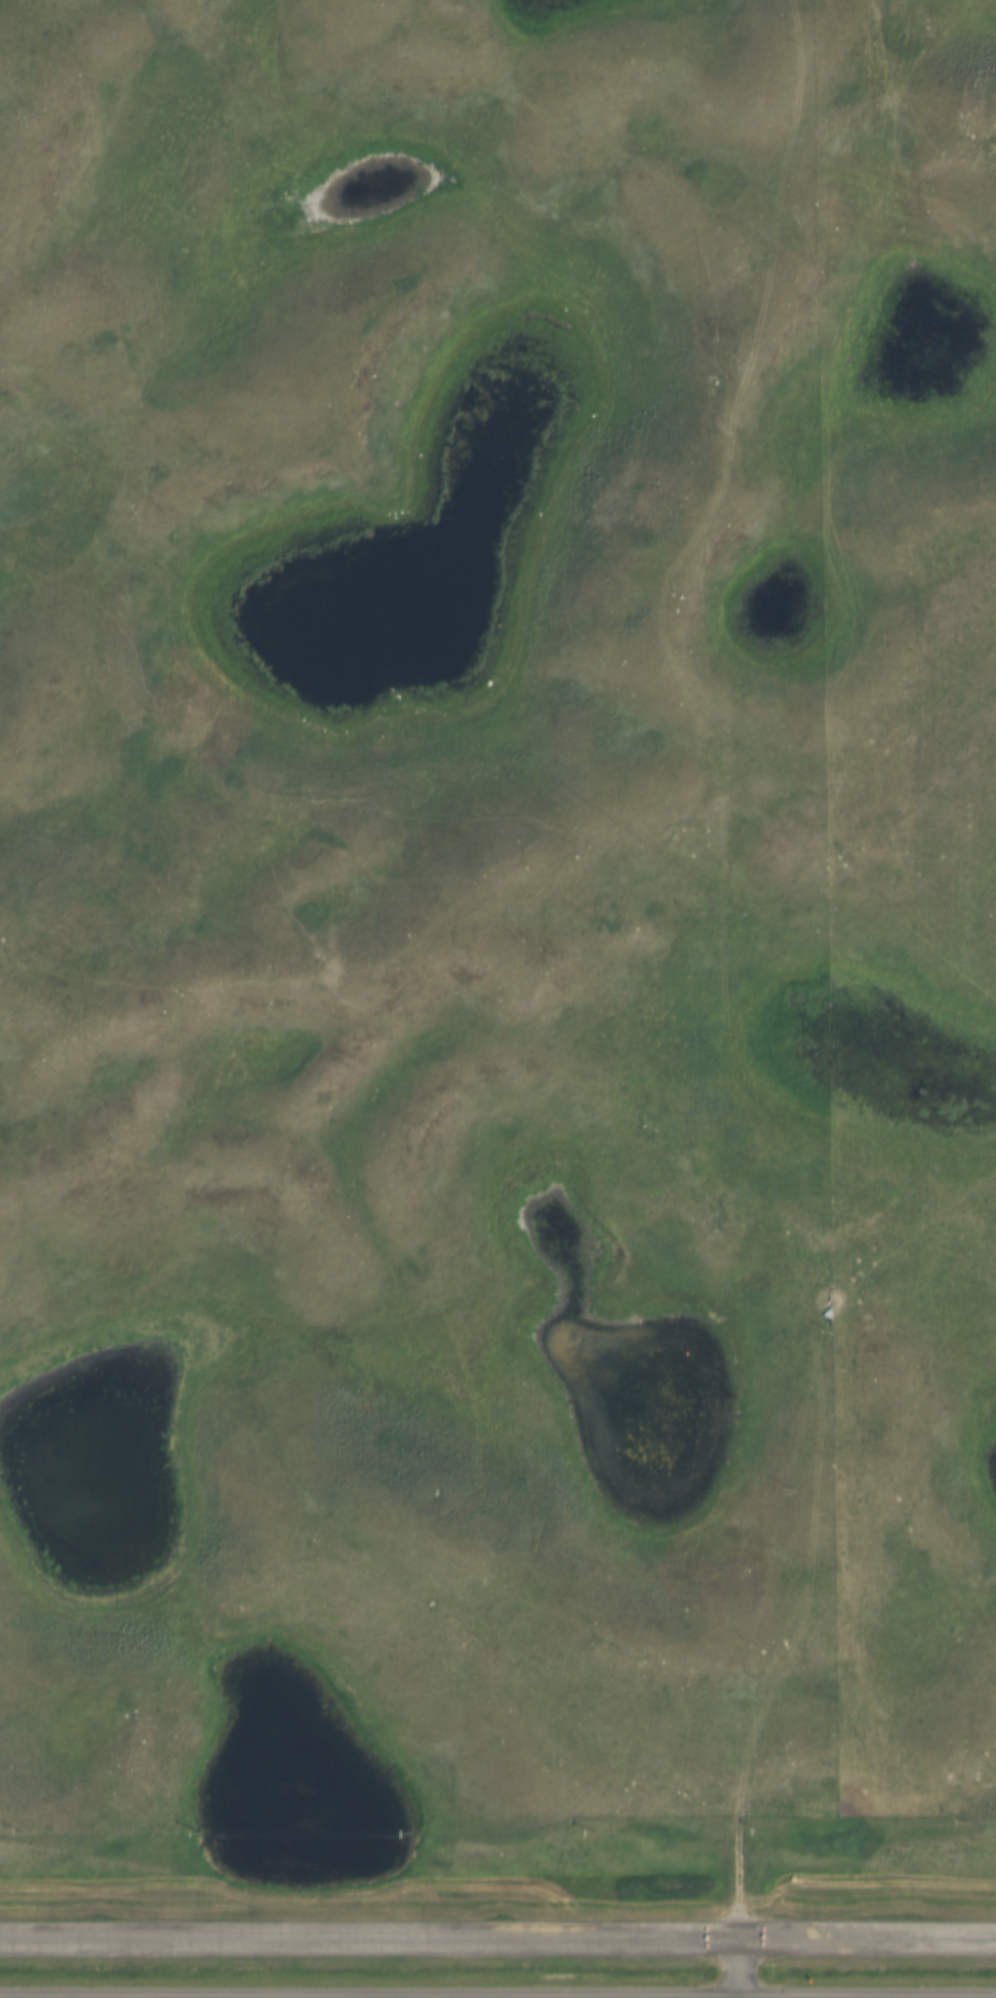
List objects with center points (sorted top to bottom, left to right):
road: (497, 1936)

